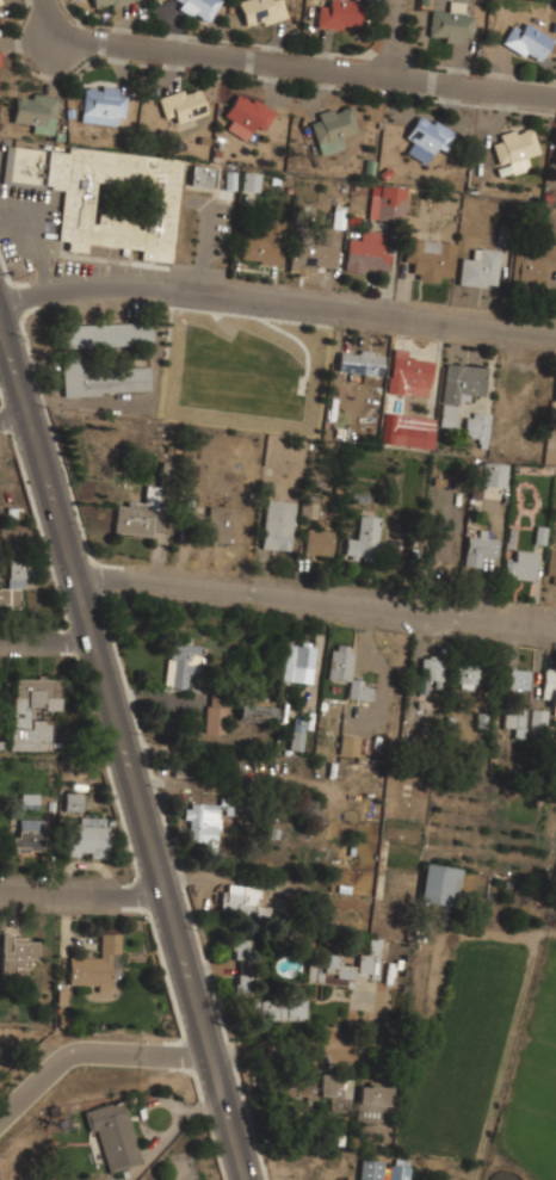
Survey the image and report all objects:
building: (104, 2)
building: (1, 7)
building: (199, 8)
building: (260, 11)
building: (339, 13)
building: (451, 21)
road: (391, 38)
building: (527, 39)
road: (286, 64)
building: (103, 103)
building: (183, 104)
building: (35, 111)
building: (246, 113)
building: (333, 125)
building: (427, 137)
building: (515, 147)
building: (555, 154)
building: (202, 174)
building: (251, 180)
building: (104, 194)
building: (388, 203)
building: (261, 247)
building: (366, 252)
building: (314, 255)
building: (430, 258)
building: (533, 266)
building: (478, 267)
road: (276, 298)
building: (105, 334)
building: (359, 363)
building: (409, 376)
building: (101, 378)
building: (464, 382)
building: (555, 395)
road: (13, 414)
building: (447, 415)
building: (478, 427)
building: (409, 438)
building: (493, 474)
building: (309, 506)
building: (148, 507)
building: (218, 524)
building: (278, 524)
building: (364, 539)
building: (319, 540)
building: (441, 544)
building: (478, 544)
building: (520, 564)
building: (551, 567)
building: (13, 585)
road: (315, 603)
road: (47, 640)
building: (298, 662)
building: (181, 666)
building: (430, 669)
building: (347, 671)
building: (467, 677)
building: (518, 677)
building: (552, 691)
building: (32, 710)
building: (258, 712)
building: (216, 716)
building: (515, 718)
building: (538, 719)
building: (297, 734)
building: (348, 745)
road: (124, 749)
building: (29, 801)
building: (73, 802)
building: (202, 821)
building: (29, 834)
building: (87, 836)
building: (341, 879)
building: (439, 884)
road: (82, 890)
building: (242, 900)
building: (18, 950)
building: (94, 964)
building: (245, 965)
building: (348, 966)
building: (280, 1008)
road: (92, 1051)
building: (295, 1085)
building: (335, 1087)
building: (373, 1098)
building: (113, 1133)
building: (371, 1169)
building: (399, 1170)

